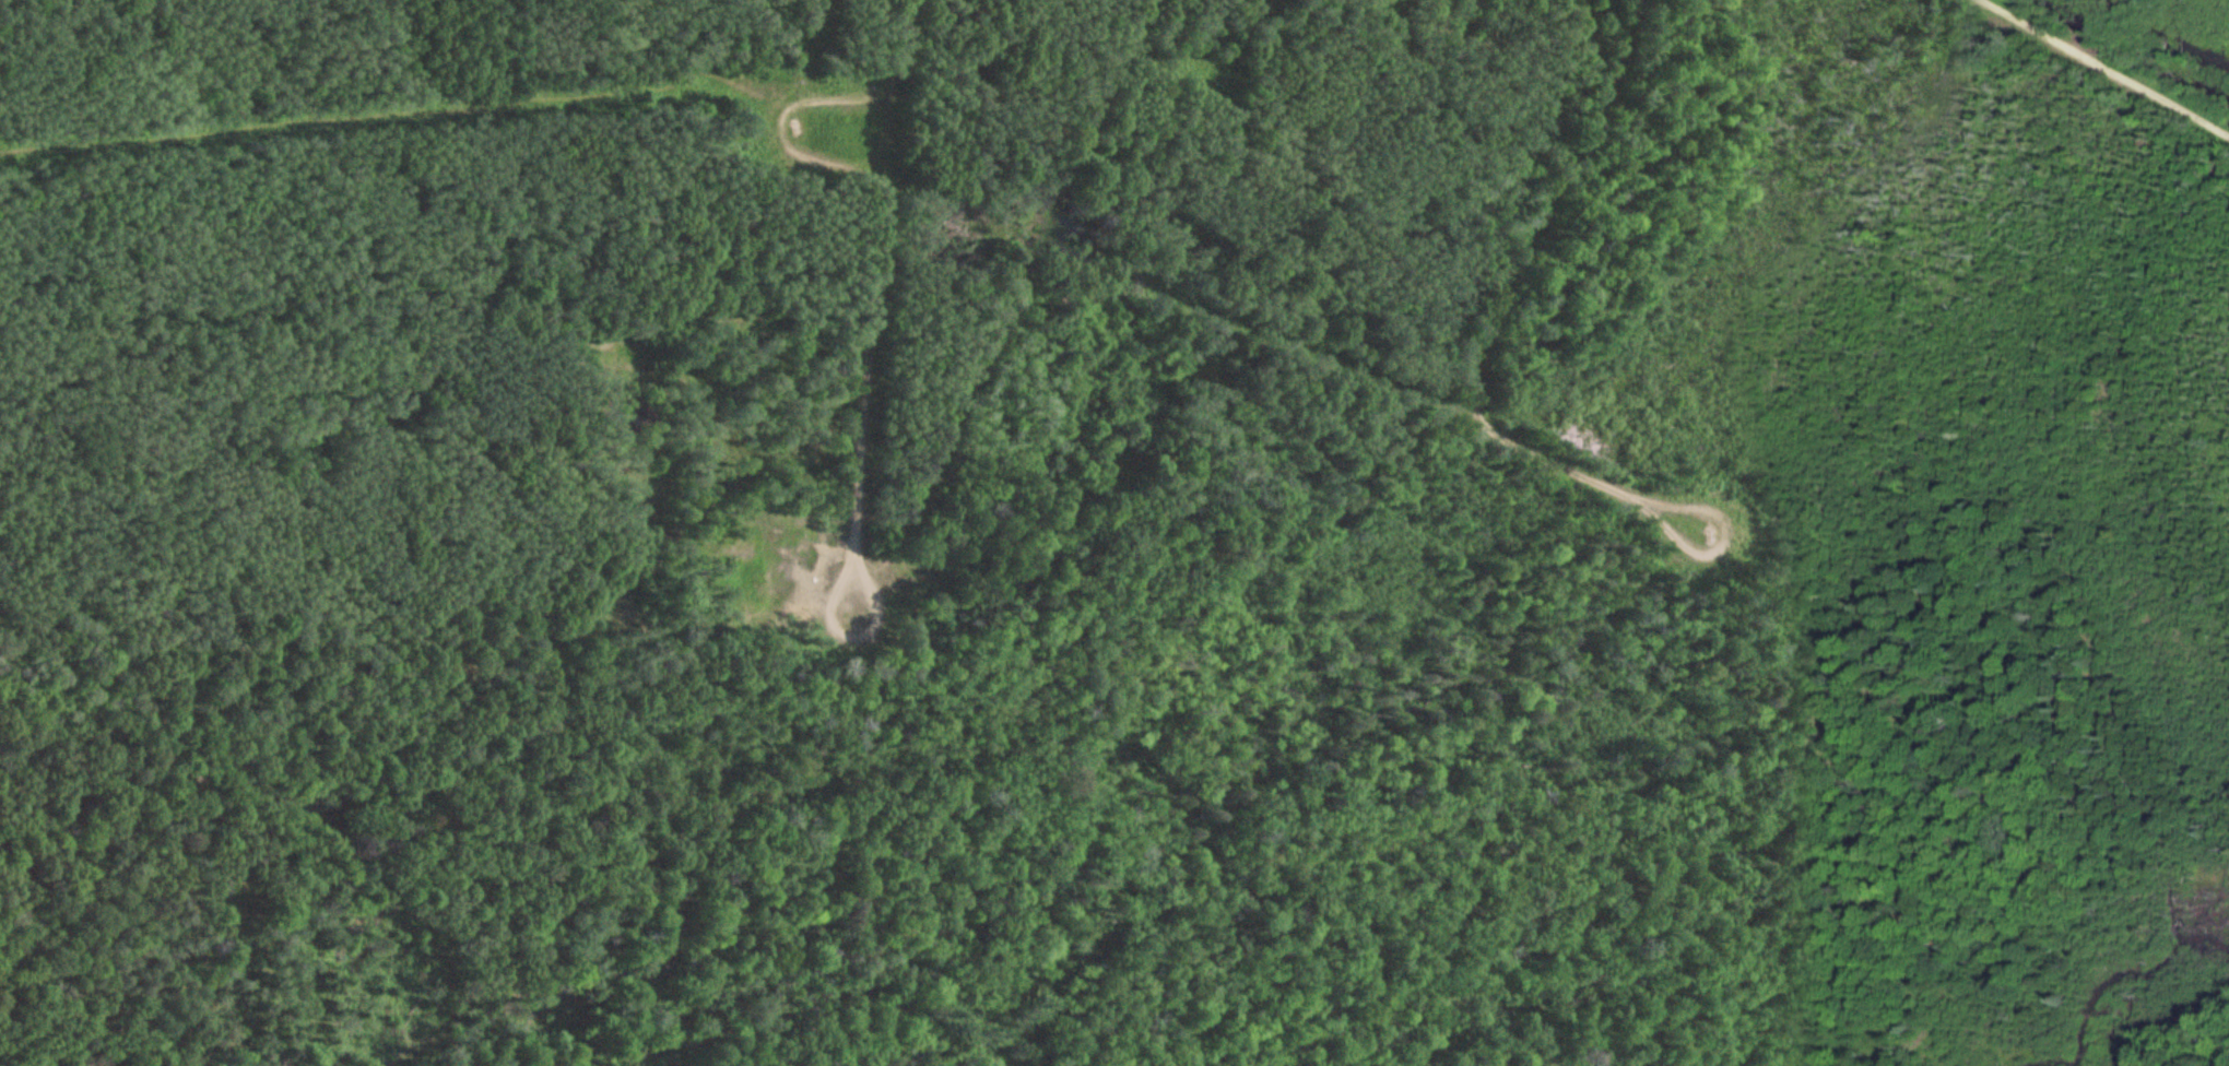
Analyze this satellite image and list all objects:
road: (2107, 67)
road: (778, 126)
road: (1483, 333)
road: (1679, 543)
road: (723, 631)

